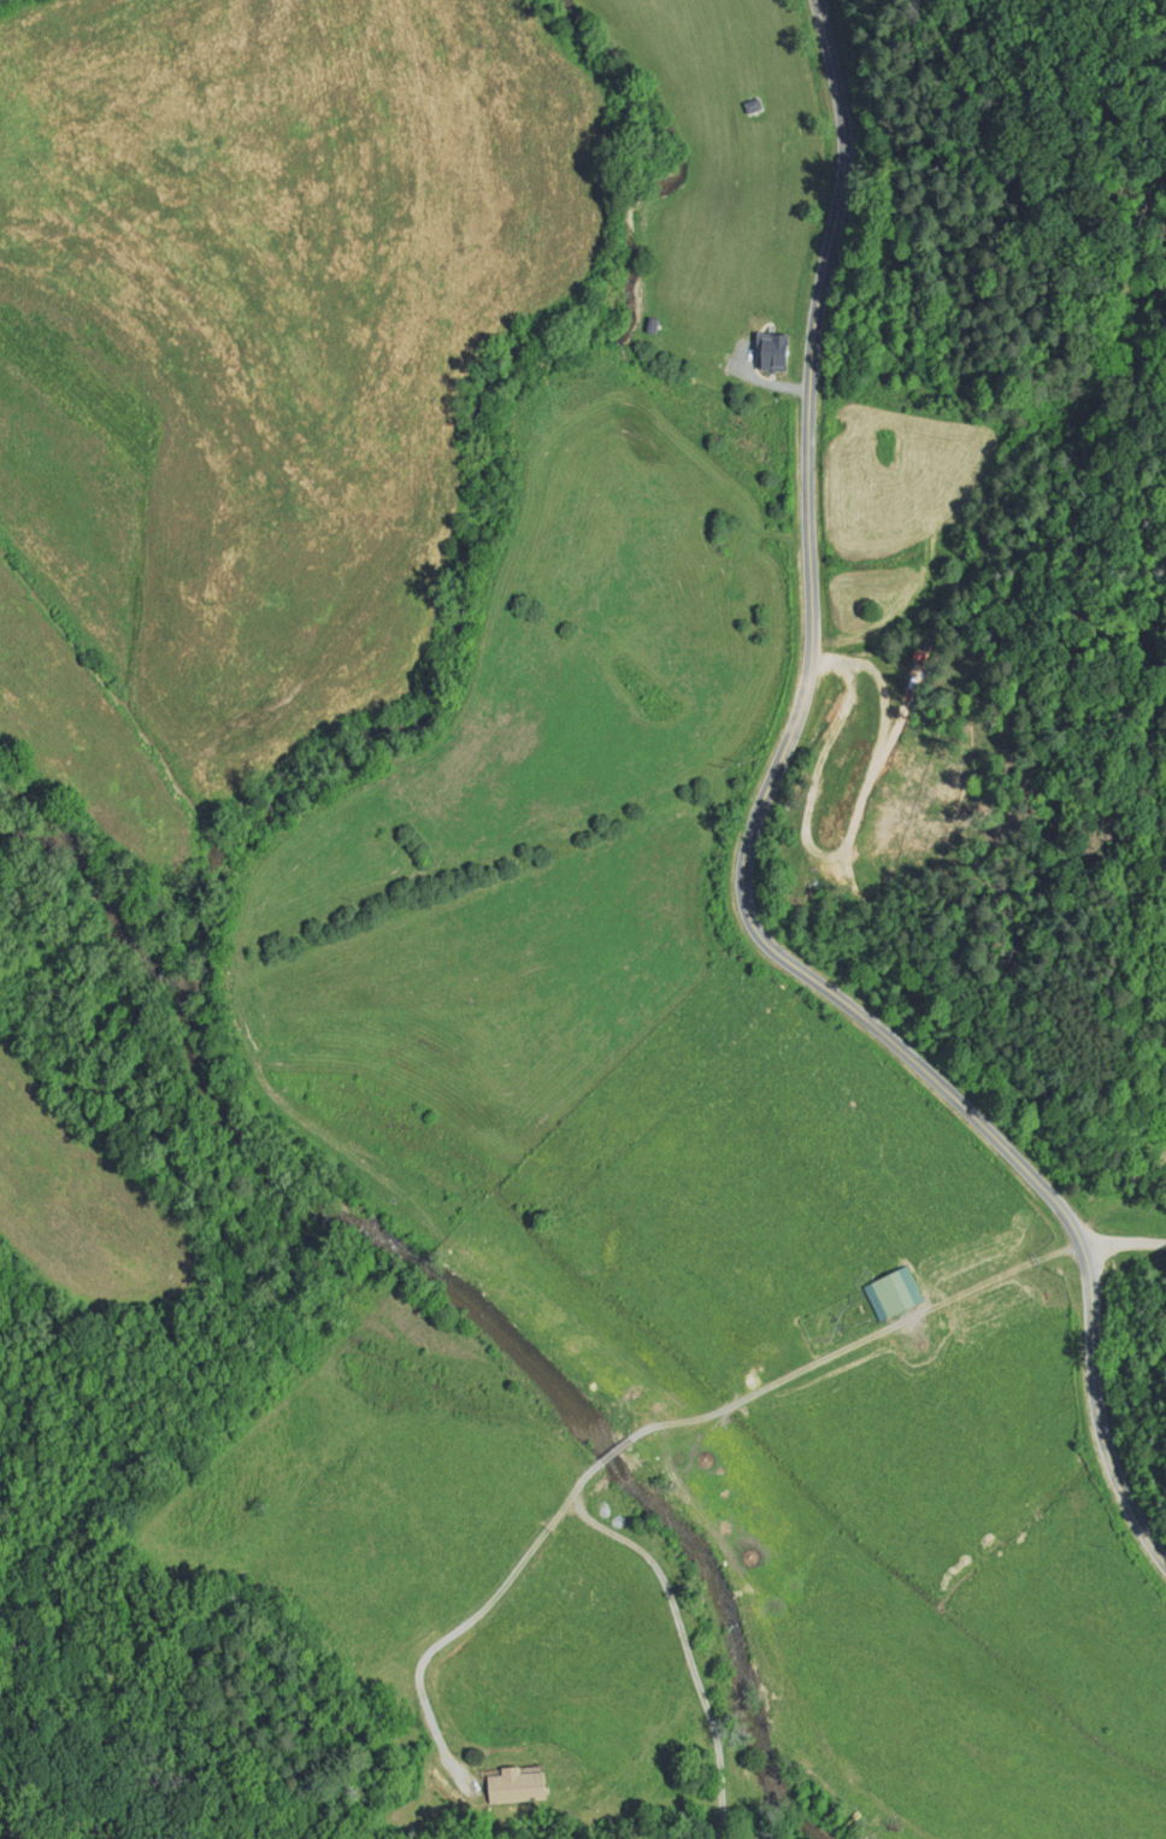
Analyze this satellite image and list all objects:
road: (746, 852)
road: (1124, 1245)
building: (897, 1291)
road: (859, 1340)
river: (540, 1380)
road: (618, 1446)
road: (478, 1611)
road: (683, 1641)
building: (517, 1786)

